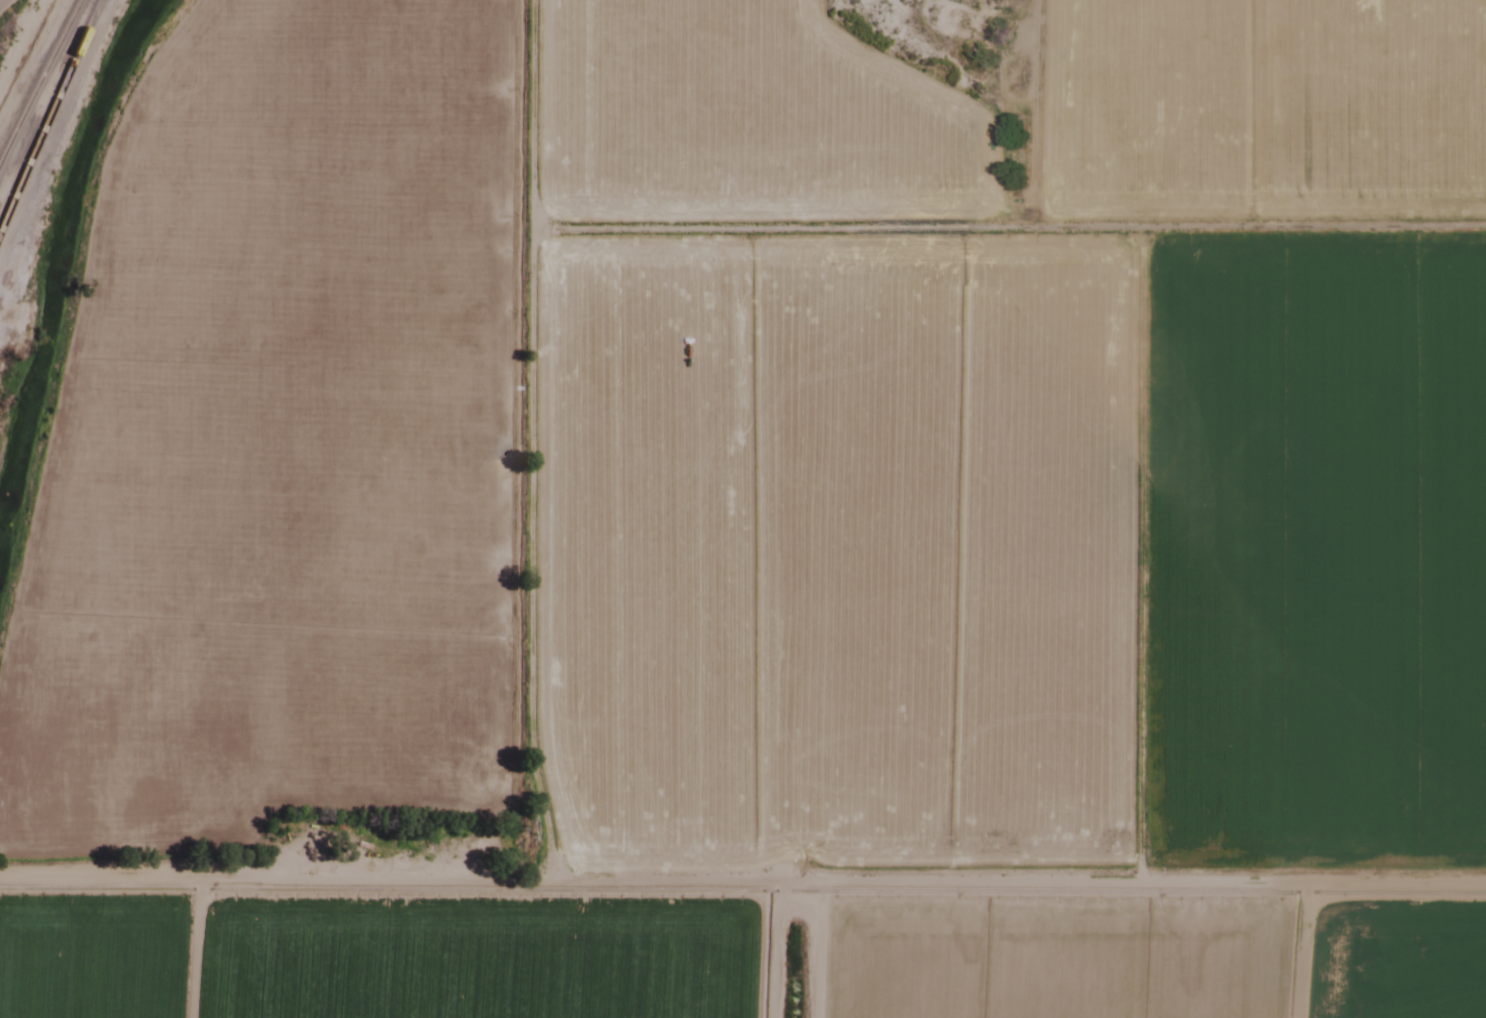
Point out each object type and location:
road: (0, 0)
railway: (38, 78)
railway: (47, 111)
crop: (765, 519)

